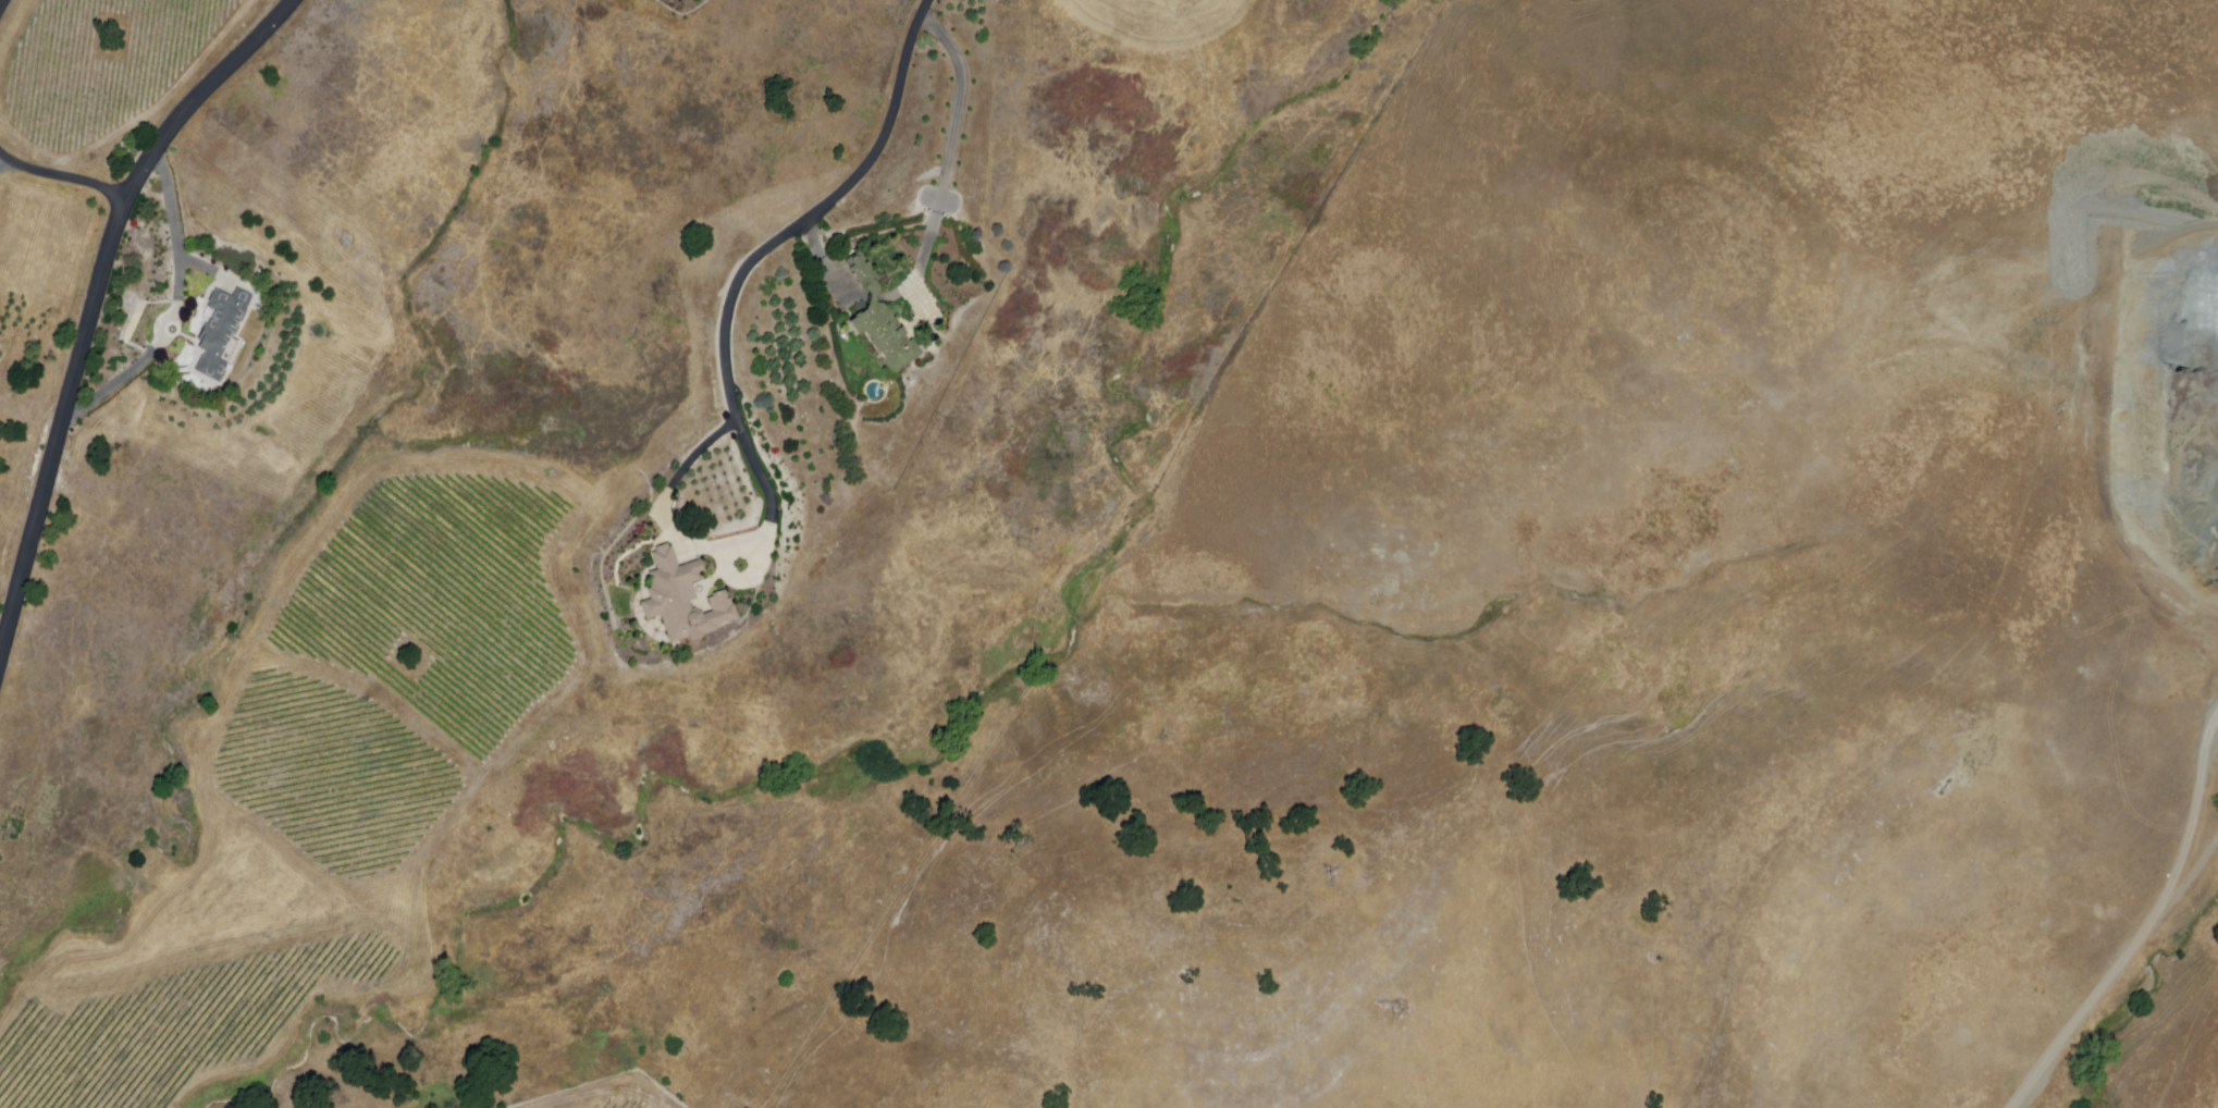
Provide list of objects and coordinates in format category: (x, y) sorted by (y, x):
road: (4, 9)
road: (949, 151)
road: (4, 169)
road: (61, 176)
road: (816, 210)
road: (823, 259)
road: (94, 297)
road: (171, 309)
building: (878, 324)
building: (223, 332)
quarry: (2170, 420)
road: (766, 484)
building: (687, 601)
road: (2191, 877)
road: (2143, 926)

